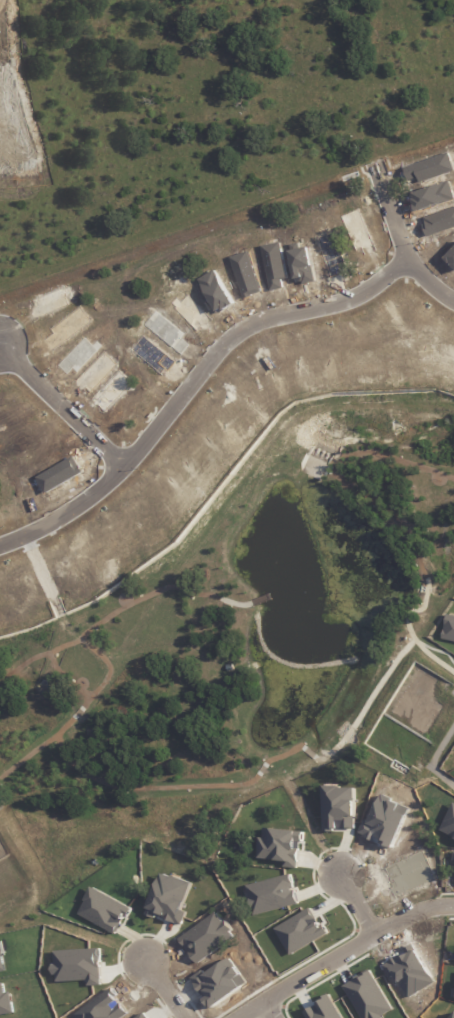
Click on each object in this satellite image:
road: (270, 86)
road: (13, 149)
road: (388, 177)
road: (195, 369)
road: (61, 404)
building: (448, 628)
building: (453, 857)
road: (358, 903)
road: (340, 950)
road: (161, 987)
road: (268, 1008)

